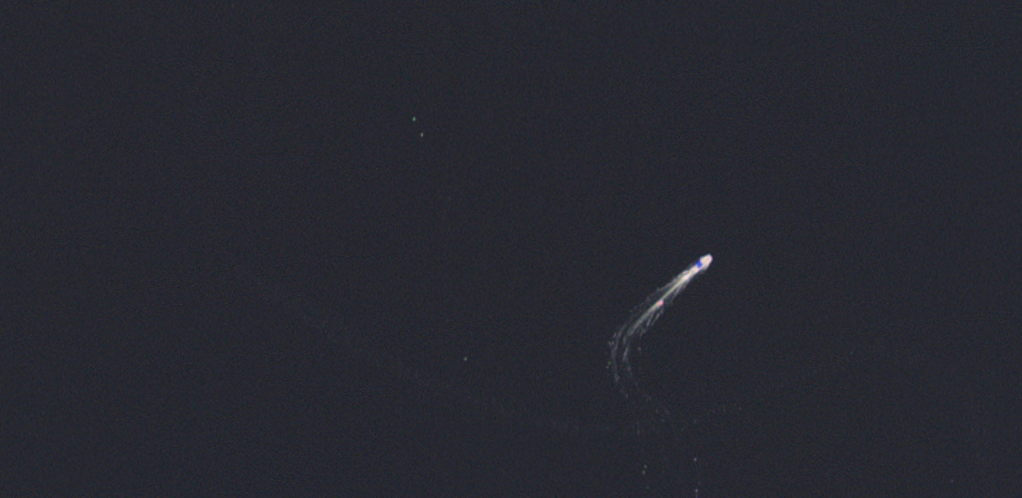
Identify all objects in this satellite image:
river: (74, 129)

